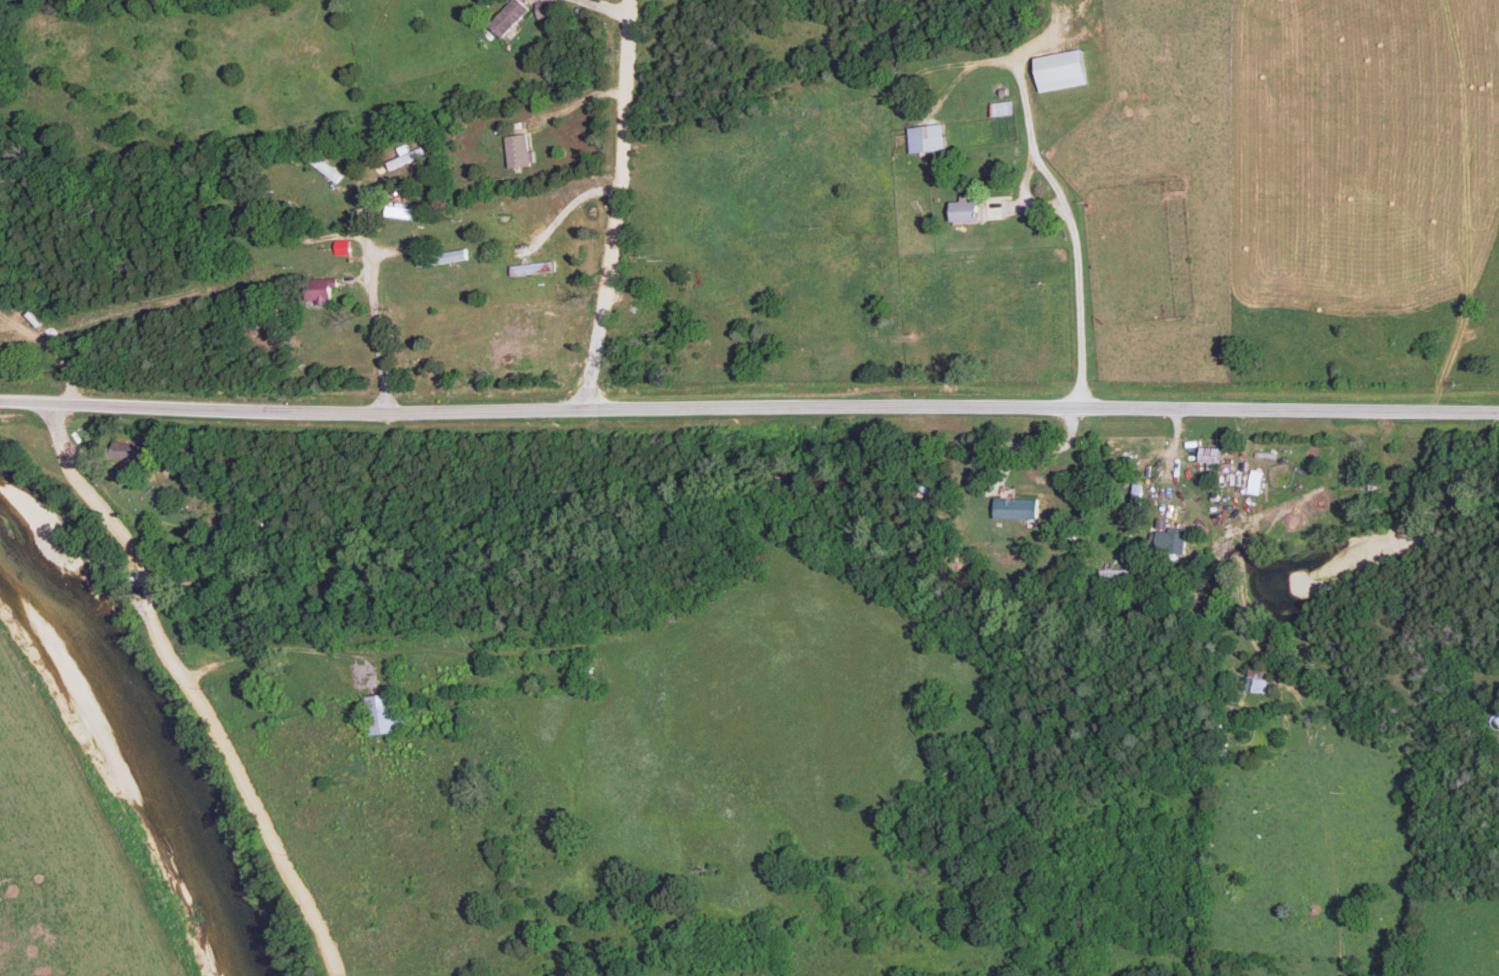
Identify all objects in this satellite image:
building: (505, 17)
building: (1058, 70)
road: (581, 99)
building: (925, 138)
building: (516, 150)
road: (362, 202)
road: (617, 204)
building: (962, 210)
building: (396, 211)
road: (1069, 231)
building: (448, 256)
building: (530, 268)
building: (319, 290)
road: (749, 406)
road: (1041, 447)
building: (1254, 482)
building: (1014, 508)
building: (1171, 541)
road: (220, 684)
building: (1256, 684)
building: (381, 714)
river: (143, 722)

